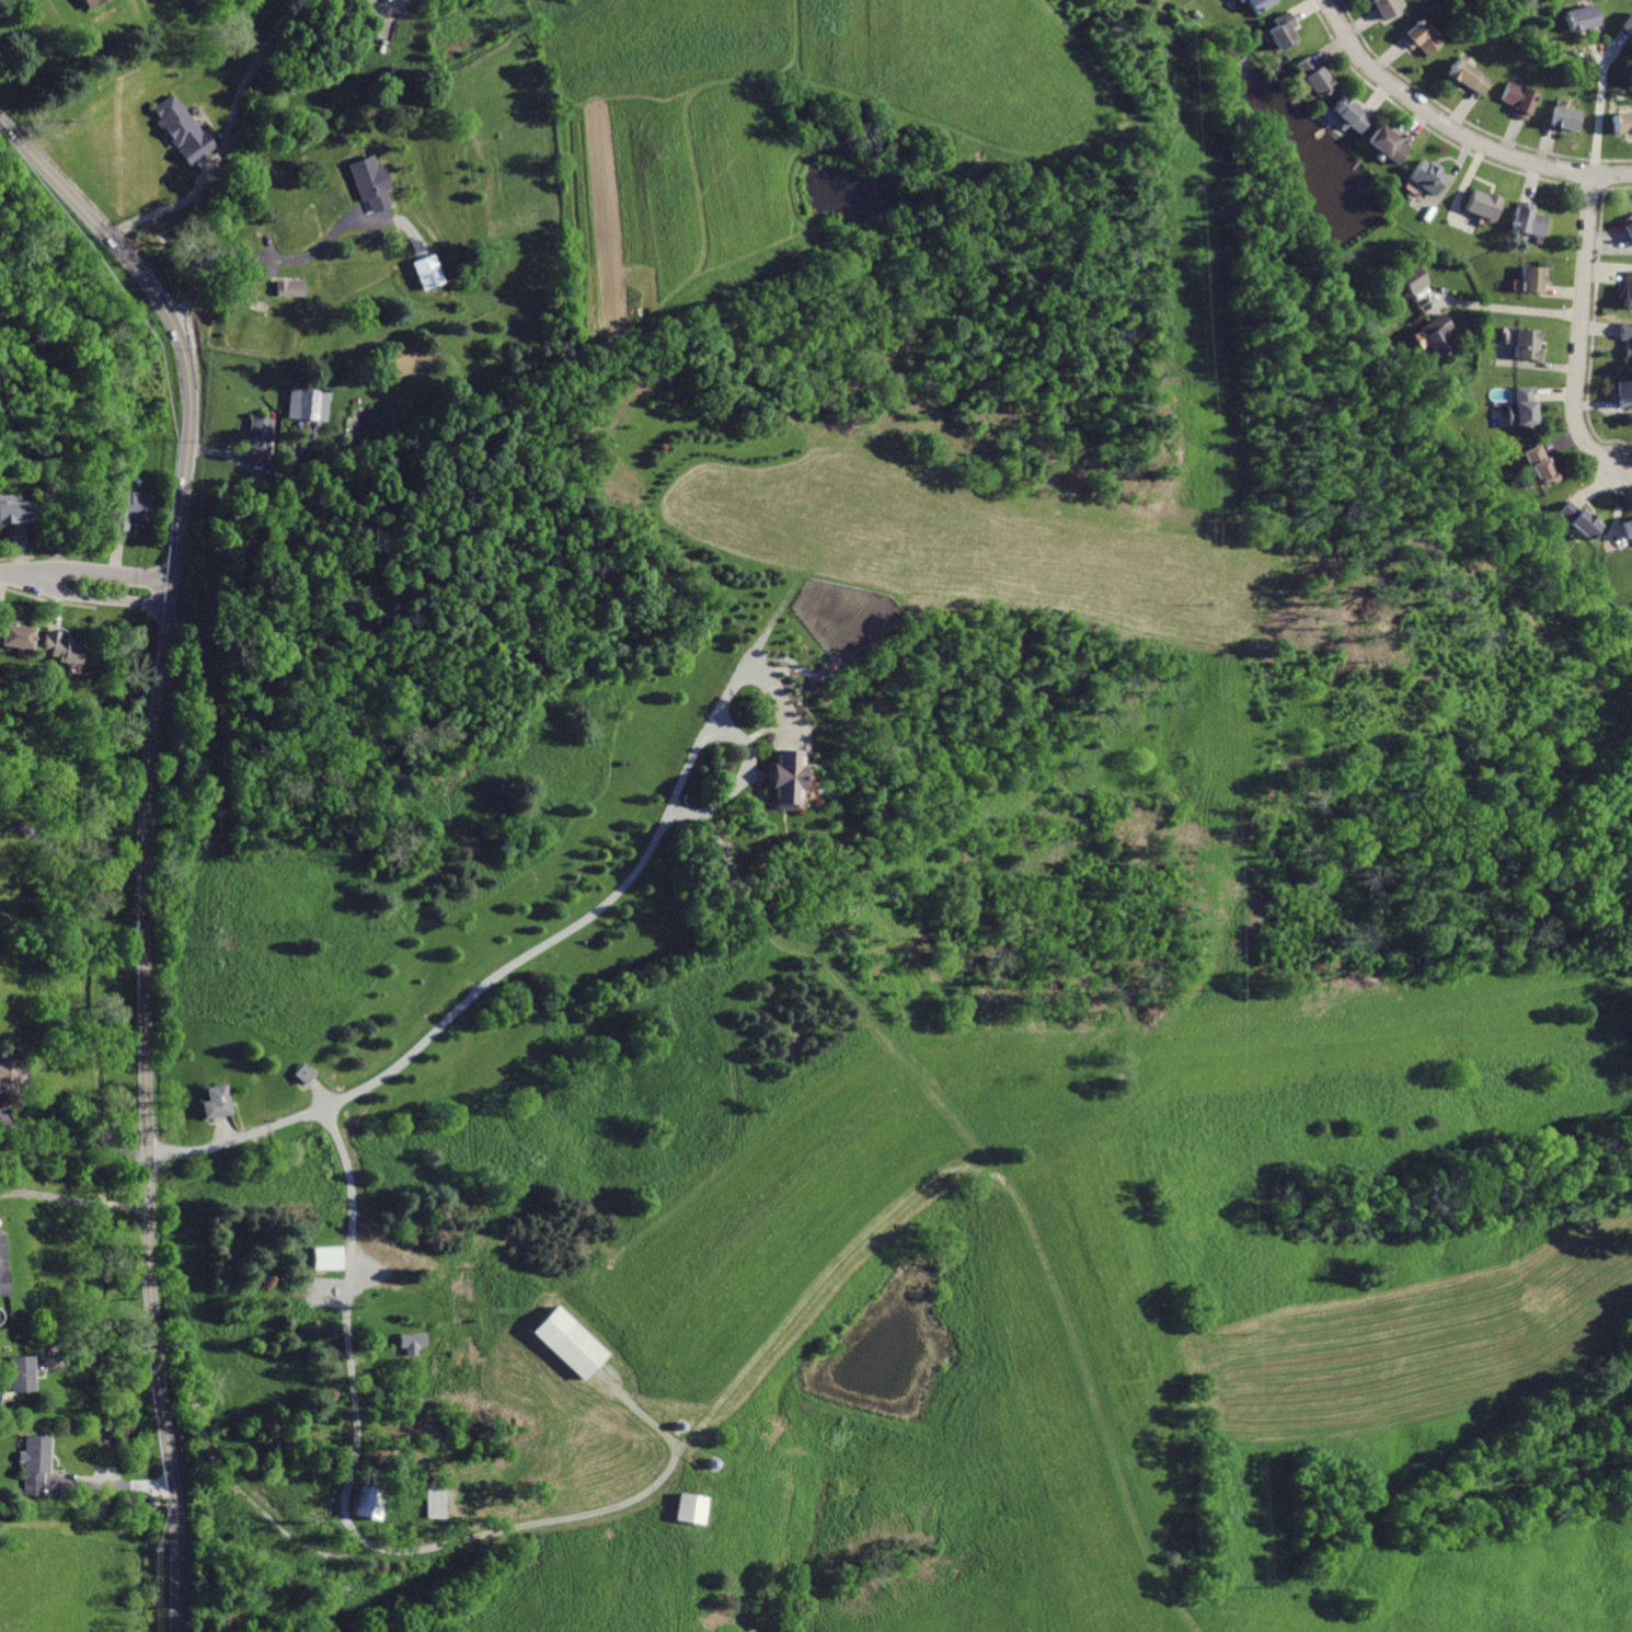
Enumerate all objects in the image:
building: (387, 0)
building: (90, 3)
building: (1257, 3)
building: (1387, 8)
building: (1583, 18)
building: (1628, 25)
building: (1283, 31)
building: (1422, 36)
road: (1597, 47)
road: (1618, 50)
road: (250, 73)
building: (1315, 74)
building: (1472, 77)
building: (1521, 99)
building: (1349, 115)
building: (1568, 117)
road: (1599, 120)
building: (1623, 120)
road: (1455, 127)
building: (179, 129)
building: (1388, 145)
building: (1429, 176)
building: (369, 182)
building: (1485, 204)
road: (171, 205)
building: (1528, 220)
road: (393, 221)
building: (1630, 228)
road: (261, 257)
road: (279, 268)
building: (429, 271)
building: (1413, 277)
building: (1532, 278)
building: (291, 287)
building: (1628, 289)
road: (1433, 291)
road: (1429, 306)
road: (1513, 308)
road: (1583, 329)
building: (1437, 334)
building: (1627, 336)
building: (1529, 343)
building: (1624, 394)
building: (303, 403)
building: (1521, 409)
building: (260, 440)
building: (1539, 463)
building: (126, 508)
building: (12, 510)
building: (1579, 519)
building: (1629, 529)
road: (91, 572)
road: (8, 574)
road: (165, 591)
road: (89, 596)
building: (12, 635)
building: (56, 645)
road: (735, 779)
building: (784, 780)
road: (152, 840)
road: (69, 859)
road: (610, 898)
building: (10, 1070)
building: (303, 1073)
building: (217, 1103)
road: (51, 1130)
road: (126, 1134)
road: (126, 1149)
road: (74, 1197)
road: (855, 1244)
building: (323, 1260)
building: (1, 1265)
crop: (1101, 1336)
building: (413, 1342)
building: (566, 1345)
road: (96, 1354)
road: (348, 1356)
building: (19, 1372)
building: (33, 1463)
road: (112, 1482)
building: (435, 1499)
building: (368, 1501)
building: (689, 1507)

